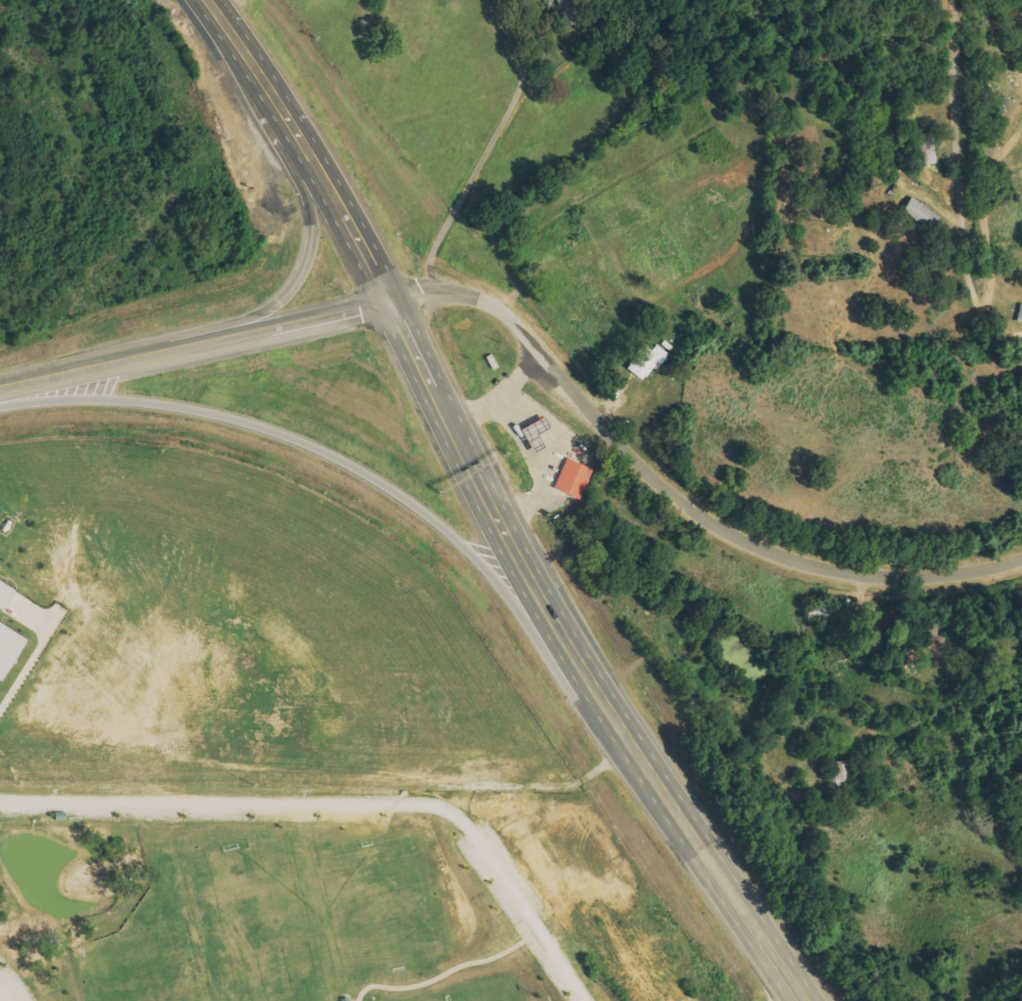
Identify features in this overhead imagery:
road: (211, 9)
building: (572, 11)
building: (924, 148)
road: (311, 157)
road: (946, 182)
road: (306, 193)
road: (1014, 206)
building: (918, 213)
road: (590, 246)
building: (1018, 314)
road: (333, 318)
road: (201, 347)
building: (644, 360)
road: (62, 378)
building: (535, 424)
building: (571, 479)
road: (672, 497)
road: (430, 510)
road: (538, 594)
building: (3, 595)
building: (923, 645)
building: (9, 646)
building: (837, 772)
road: (342, 804)
road: (752, 936)
road: (5, 993)

